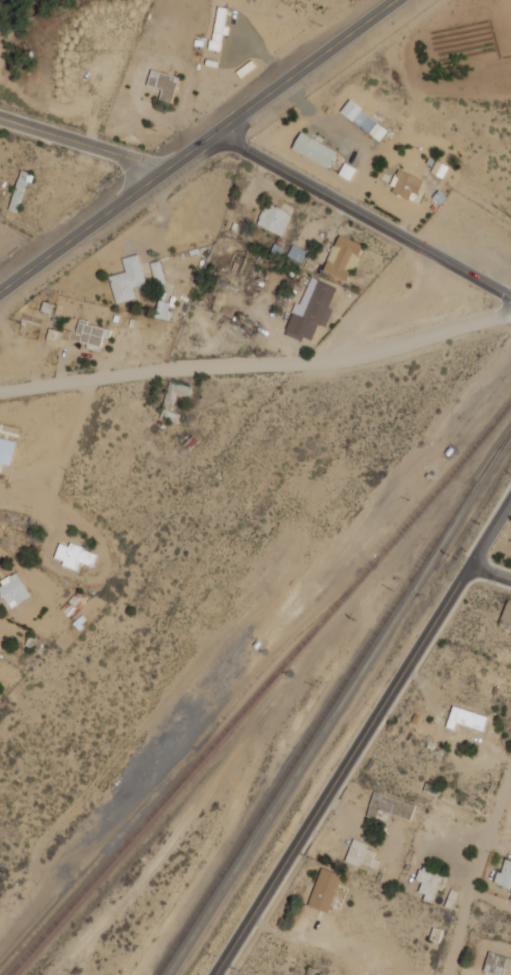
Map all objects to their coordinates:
building: (218, 26)
building: (163, 83)
building: (363, 120)
road: (21, 123)
road: (197, 145)
road: (100, 147)
building: (314, 149)
building: (346, 170)
building: (405, 184)
building: (18, 191)
road: (364, 214)
building: (273, 219)
building: (296, 253)
building: (342, 257)
building: (157, 271)
building: (127, 279)
building: (162, 308)
building: (311, 309)
building: (89, 334)
road: (257, 359)
building: (173, 399)
building: (6, 450)
building: (74, 555)
road: (490, 572)
building: (13, 590)
building: (506, 614)
railway: (261, 689)
railway: (331, 699)
railway: (340, 704)
building: (466, 718)
road: (363, 736)
railway: (185, 762)
building: (389, 806)
building: (428, 827)
building: (360, 853)
road: (477, 869)
building: (504, 875)
building: (428, 881)
building: (324, 889)
road: (491, 898)
building: (494, 963)

